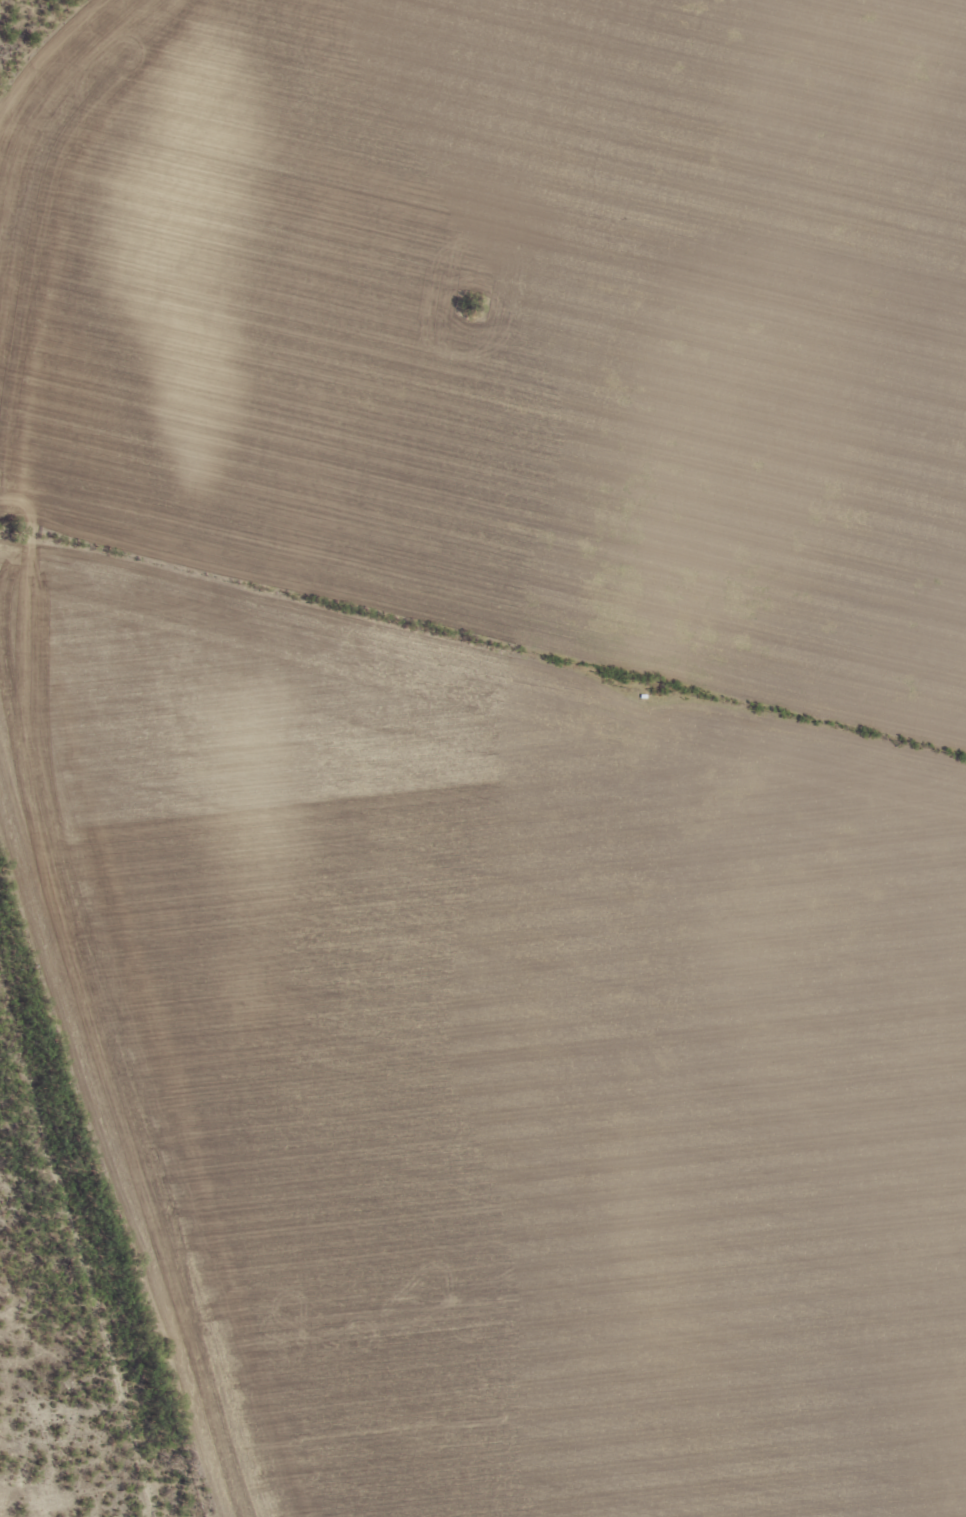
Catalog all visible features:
road: (73, 57)
road: (1, 1502)

